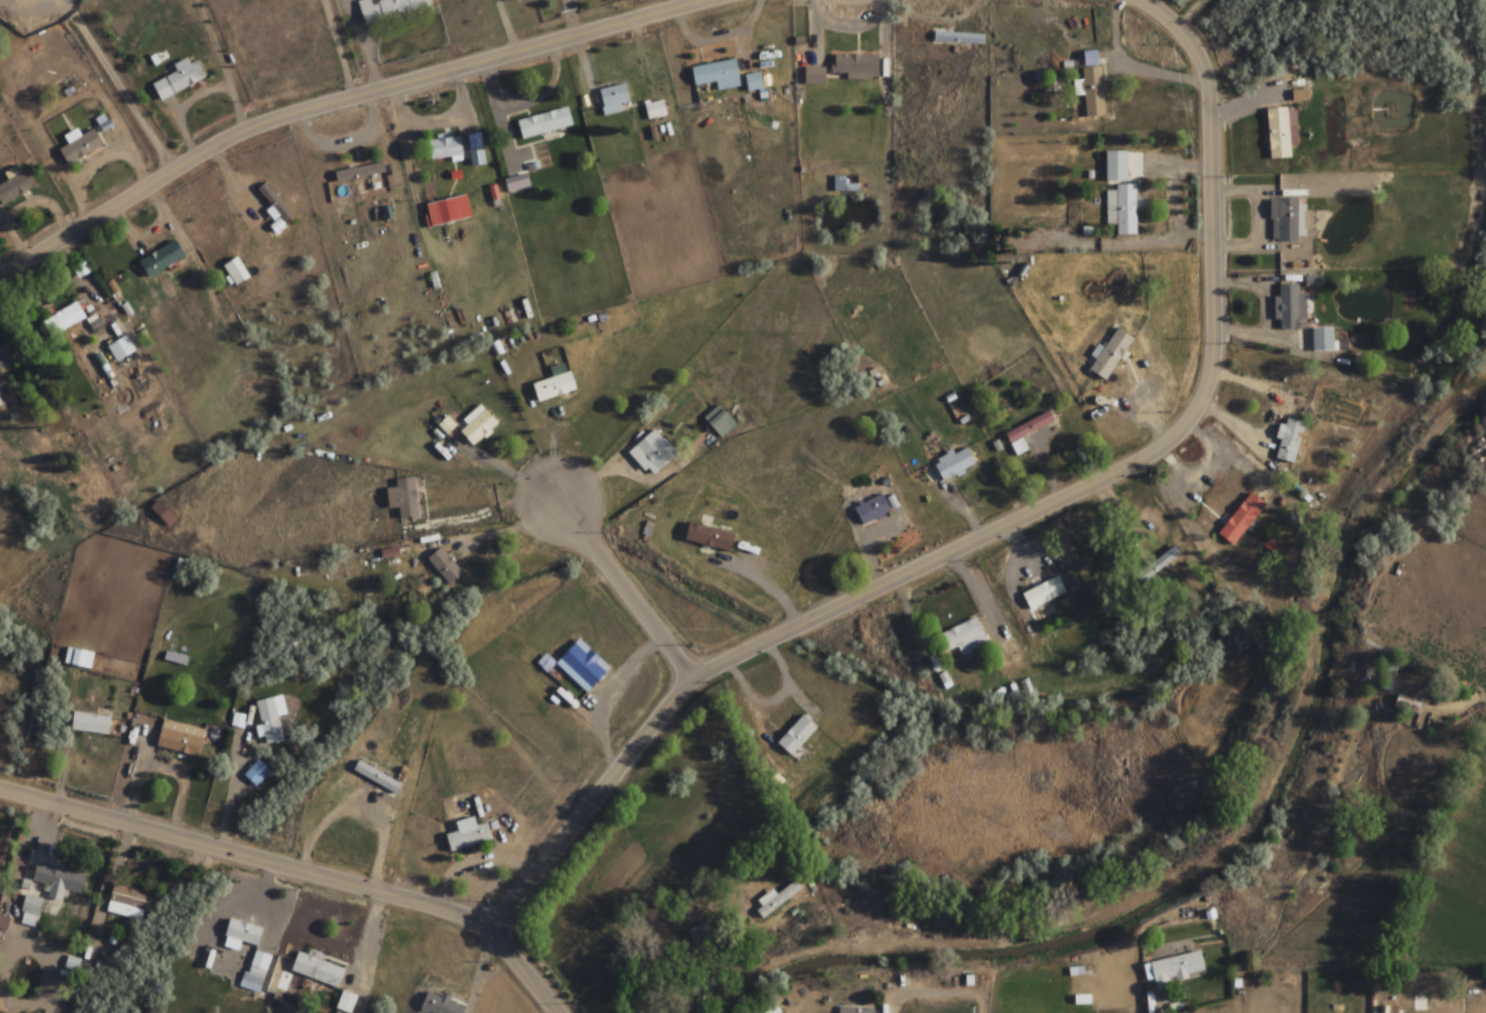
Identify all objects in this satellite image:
building: (389, 9)
building: (958, 38)
building: (853, 66)
building: (716, 75)
building: (813, 77)
building: (177, 81)
building: (753, 83)
building: (1090, 85)
building: (612, 99)
road: (336, 100)
building: (655, 109)
building: (544, 123)
building: (1278, 133)
building: (79, 145)
building: (445, 148)
building: (475, 150)
building: (359, 172)
building: (516, 183)
building: (843, 186)
building: (14, 188)
building: (1120, 195)
building: (274, 203)
building: (452, 210)
building: (1283, 221)
building: (161, 259)
building: (235, 273)
building: (1288, 306)
building: (62, 319)
building: (1323, 339)
building: (120, 348)
building: (1110, 354)
building: (5, 357)
building: (553, 386)
building: (719, 421)
building: (447, 425)
building: (478, 425)
building: (1026, 432)
building: (1289, 440)
building: (651, 454)
building: (954, 464)
building: (404, 498)
building: (872, 510)
building: (162, 514)
building: (1241, 519)
road: (1000, 527)
building: (709, 537)
building: (444, 565)
building: (1156, 565)
road: (622, 590)
building: (1043, 593)
building: (960, 639)
building: (175, 658)
building: (102, 665)
building: (582, 665)
building: (1389, 677)
building: (1407, 704)
building: (270, 718)
building: (90, 724)
building: (796, 735)
building: (179, 739)
building: (256, 773)
building: (376, 777)
building: (468, 837)
road: (243, 857)
building: (57, 883)
building: (126, 902)
building: (29, 913)
building: (2, 928)
building: (241, 935)
building: (1174, 968)
building: (317, 970)
building: (255, 971)
road: (520, 971)
building: (702, 985)
building: (1421, 990)
building: (346, 1002)
building: (438, 1005)
building: (764, 1006)
building: (854, 1011)

